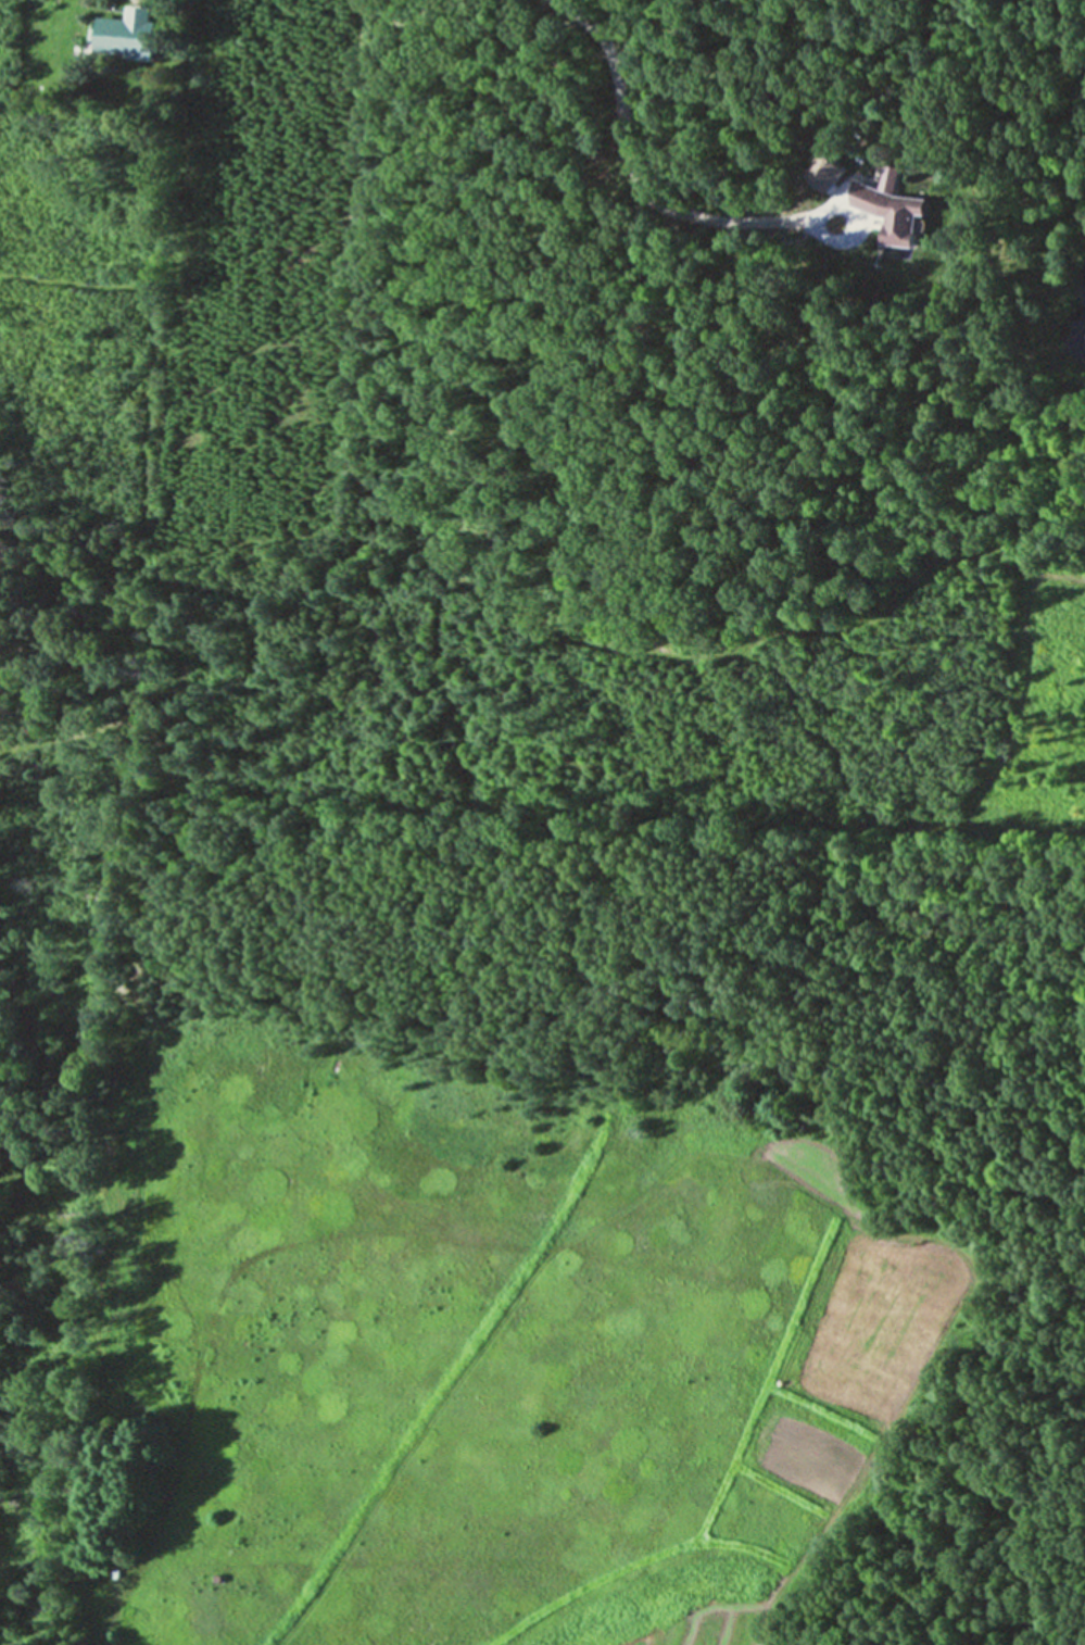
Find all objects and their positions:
building: (127, 33)
road: (633, 169)
building: (891, 214)

